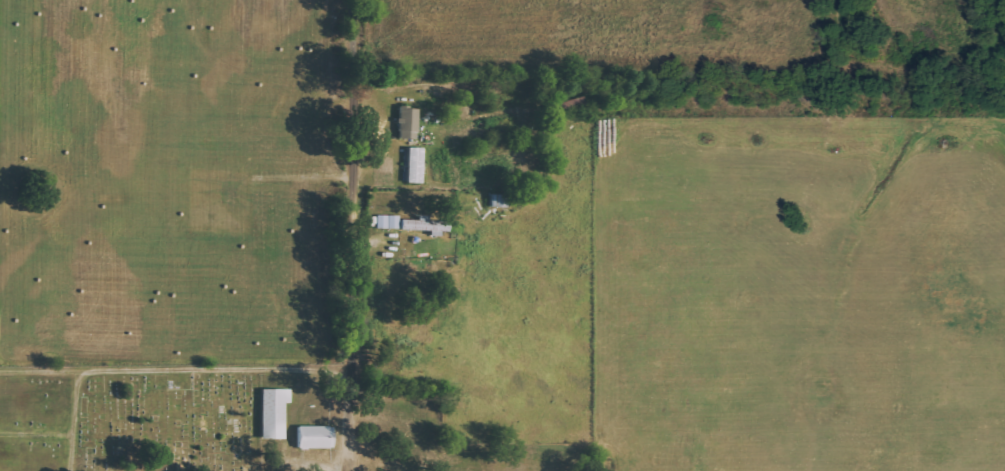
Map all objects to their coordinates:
building: (409, 123)
building: (416, 165)
building: (389, 222)
building: (427, 225)
road: (358, 235)
building: (275, 413)
park: (131, 417)
building: (316, 437)

